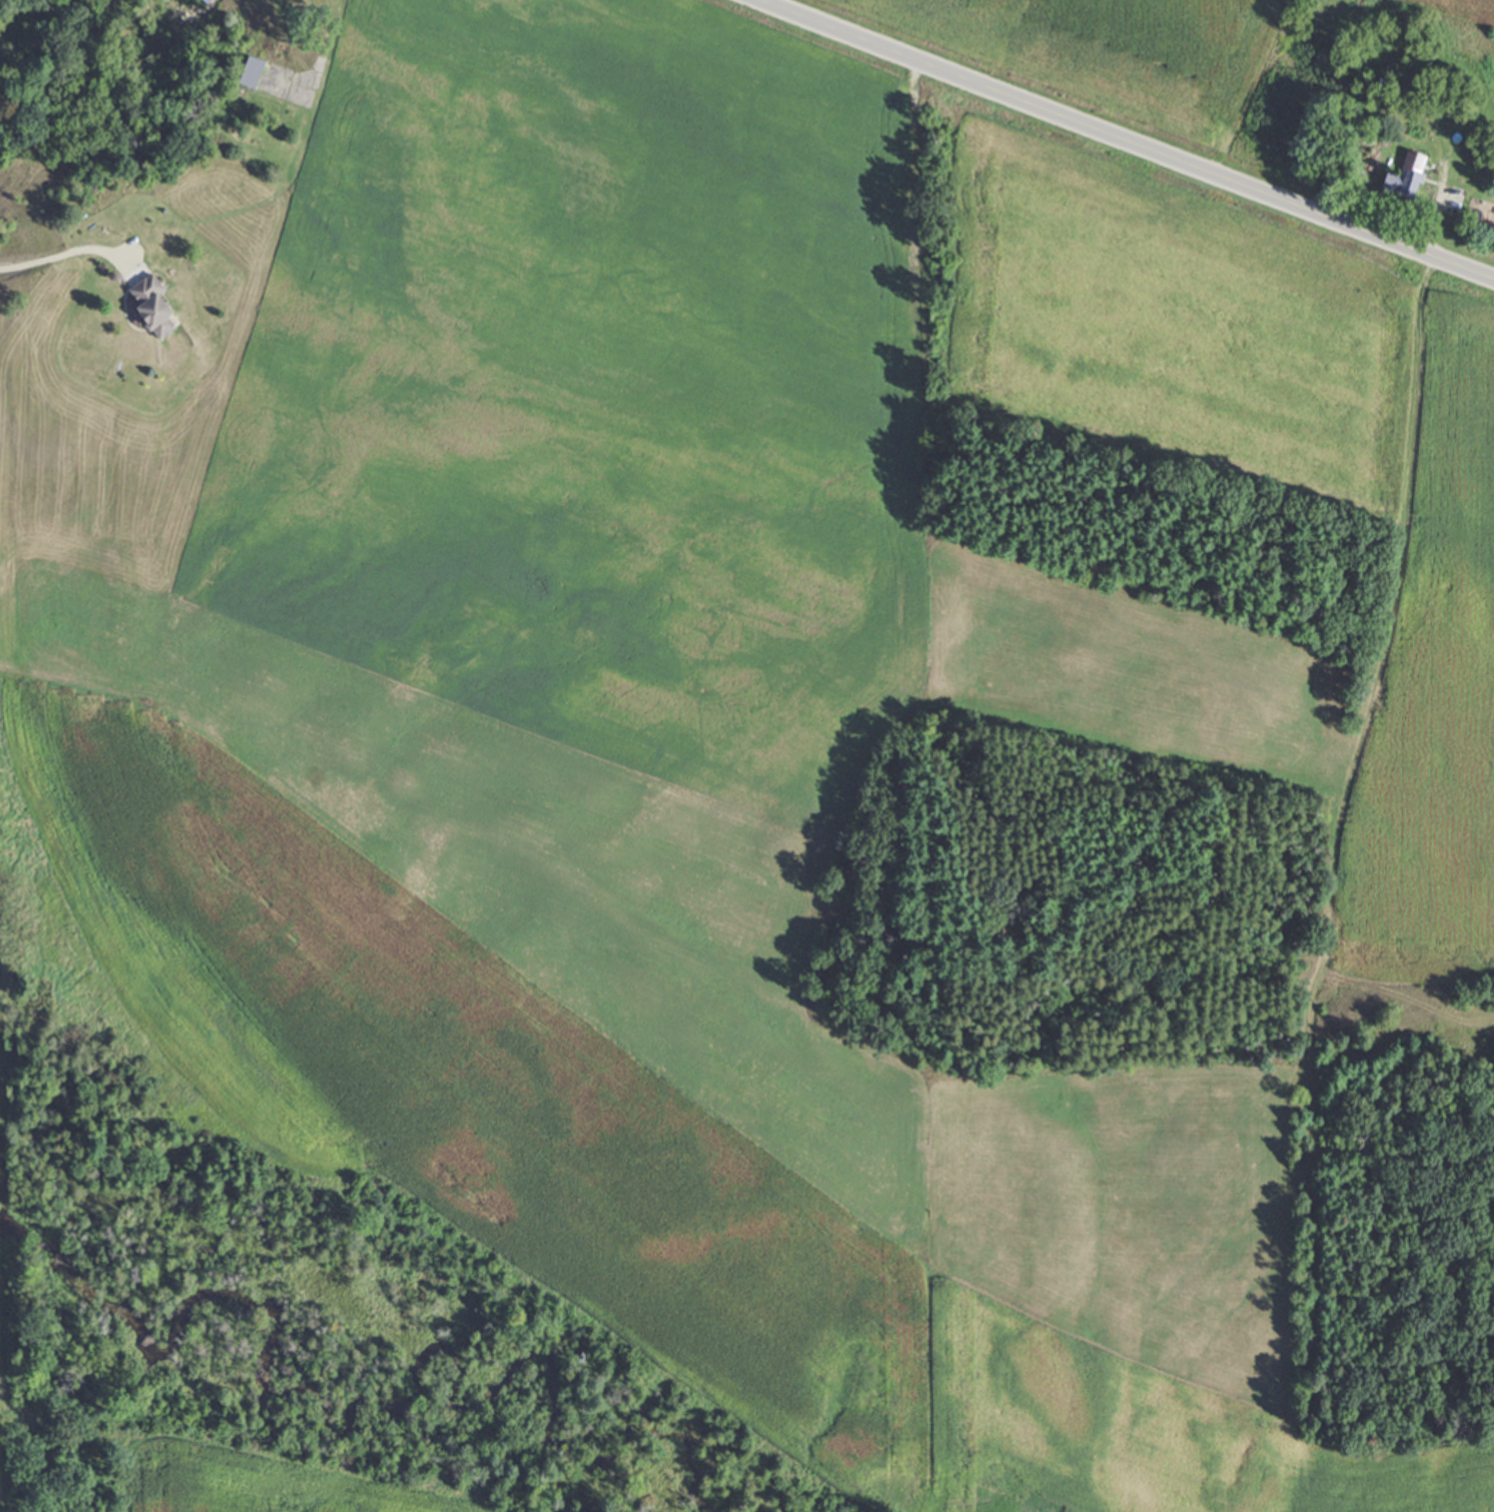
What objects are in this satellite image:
building: (207, 1)
building: (249, 72)
road: (1128, 145)
building: (1405, 174)
road: (63, 249)
building: (152, 306)

